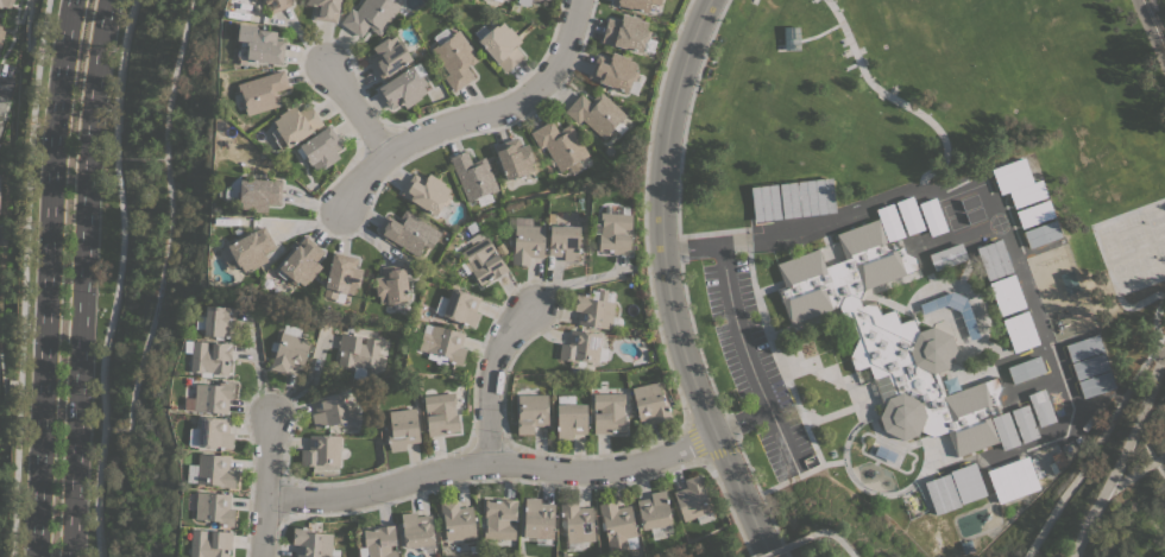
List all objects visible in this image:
building: (499, 0)
building: (537, 0)
building: (544, 0)
building: (6, 2)
building: (521, 2)
building: (636, 4)
building: (276, 5)
building: (325, 10)
building: (370, 15)
building: (626, 32)
building: (1, 33)
road: (1148, 34)
building: (259, 45)
building: (502, 45)
building: (389, 56)
building: (455, 59)
building: (615, 72)
building: (403, 88)
road: (2, 89)
building: (262, 91)
road: (893, 100)
building: (2, 106)
road: (354, 106)
building: (596, 113)
road: (470, 118)
road: (685, 120)
building: (294, 125)
building: (0, 127)
building: (560, 144)
building: (320, 147)
building: (514, 158)
building: (473, 177)
road: (975, 182)
building: (1018, 182)
building: (0, 189)
building: (427, 192)
building: (259, 194)
building: (806, 197)
building: (766, 203)
building: (1034, 213)
building: (909, 215)
building: (932, 216)
building: (889, 222)
building: (615, 230)
building: (408, 232)
building: (1041, 234)
building: (565, 241)
building: (527, 243)
road: (689, 246)
building: (251, 248)
building: (947, 257)
building: (994, 259)
building: (483, 260)
building: (301, 261)
building: (342, 276)
road: (23, 278)
road: (48, 278)
road: (80, 278)
road: (116, 278)
building: (391, 284)
road: (666, 284)
building: (1007, 295)
building: (461, 306)
building: (927, 309)
building: (593, 311)
building: (220, 321)
building: (1020, 331)
building: (890, 338)
road: (1164, 342)
building: (443, 343)
building: (580, 346)
building: (1084, 347)
building: (289, 349)
building: (358, 352)
road: (744, 354)
building: (209, 357)
building: (1090, 365)
building: (1026, 369)
road: (489, 376)
building: (1096, 384)
building: (210, 397)
building: (650, 401)
building: (1040, 407)
building: (328, 410)
building: (531, 412)
building: (609, 412)
building: (440, 413)
building: (571, 419)
building: (1025, 423)
building: (402, 428)
building: (1005, 430)
building: (214, 432)
road: (1091, 448)
building: (321, 450)
road: (1122, 451)
road: (703, 458)
road: (490, 463)
building: (212, 470)
building: (1012, 479)
building: (968, 482)
road: (264, 483)
road: (757, 492)
building: (942, 493)
building: (693, 500)
road: (728, 506)
building: (214, 507)
building: (654, 509)
building: (537, 517)
building: (499, 518)
building: (456, 520)
building: (577, 524)
building: (618, 525)
building: (416, 530)
road: (832, 534)
building: (378, 542)
building: (208, 543)
building: (313, 543)
road: (781, 546)

